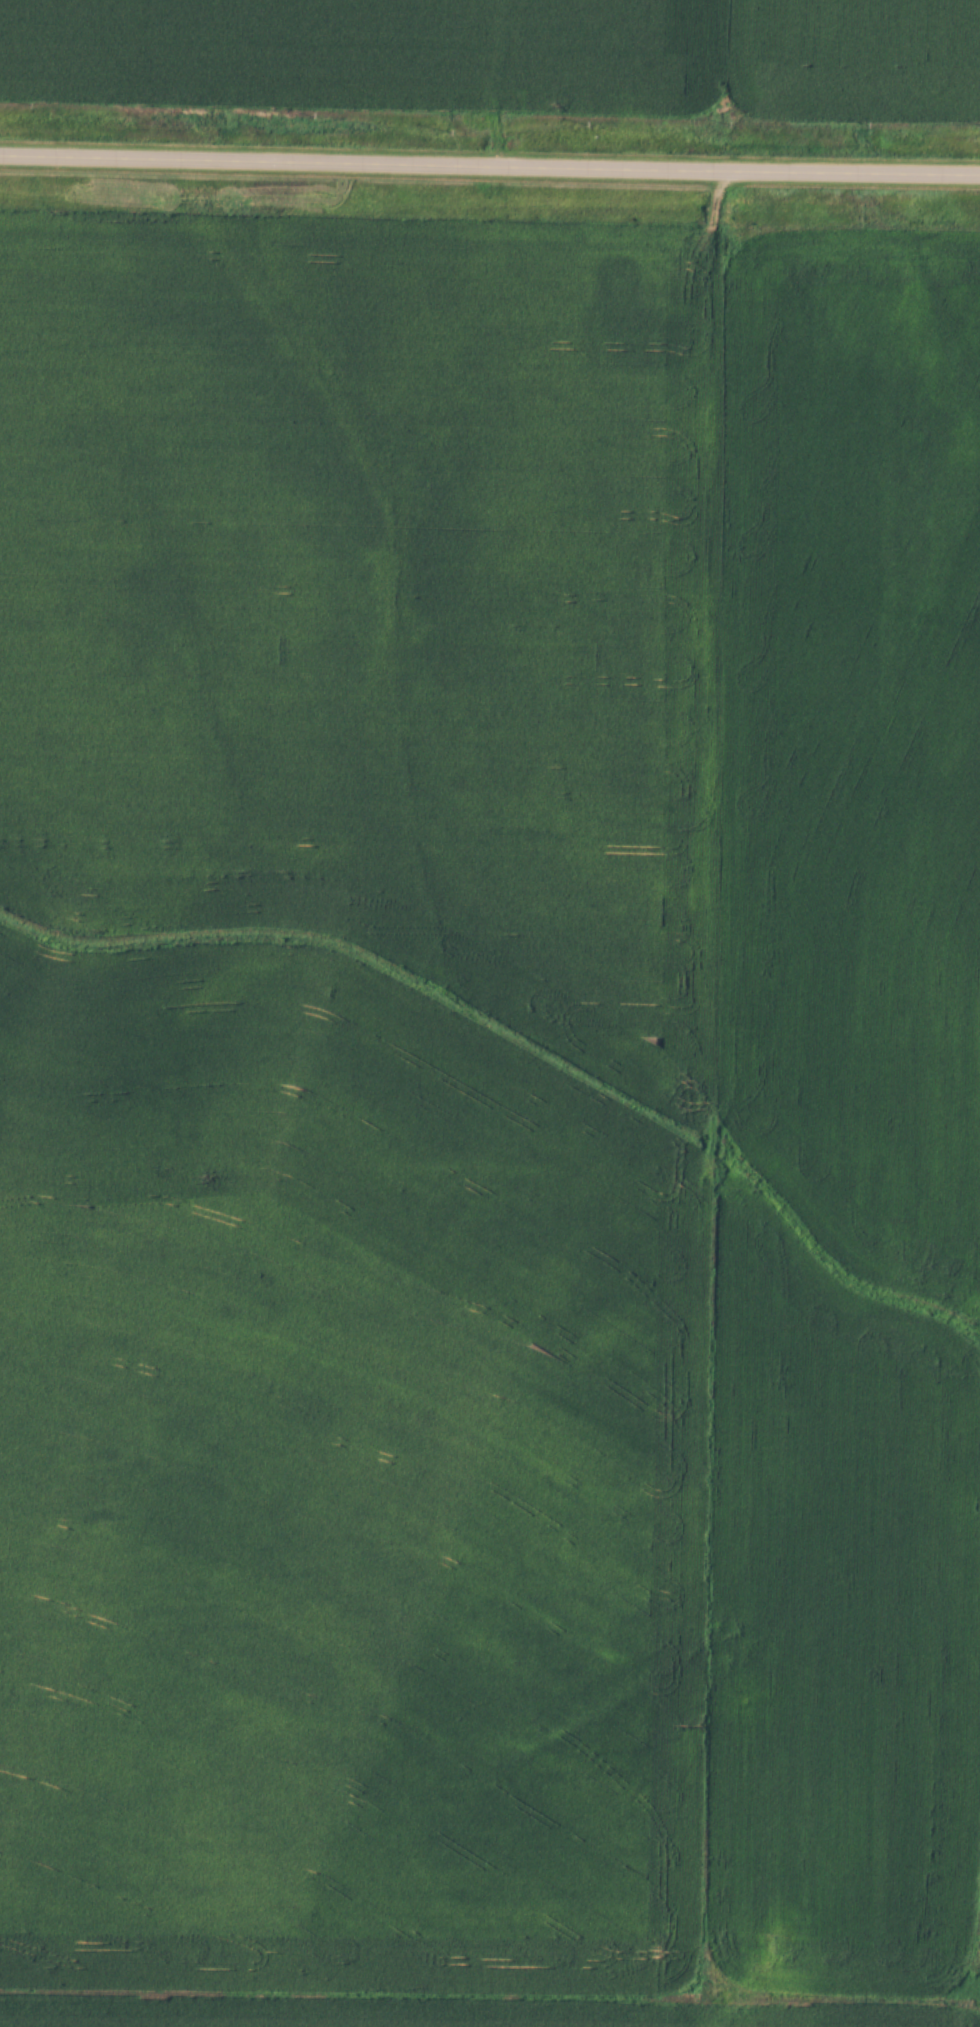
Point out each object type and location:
road: (489, 164)

